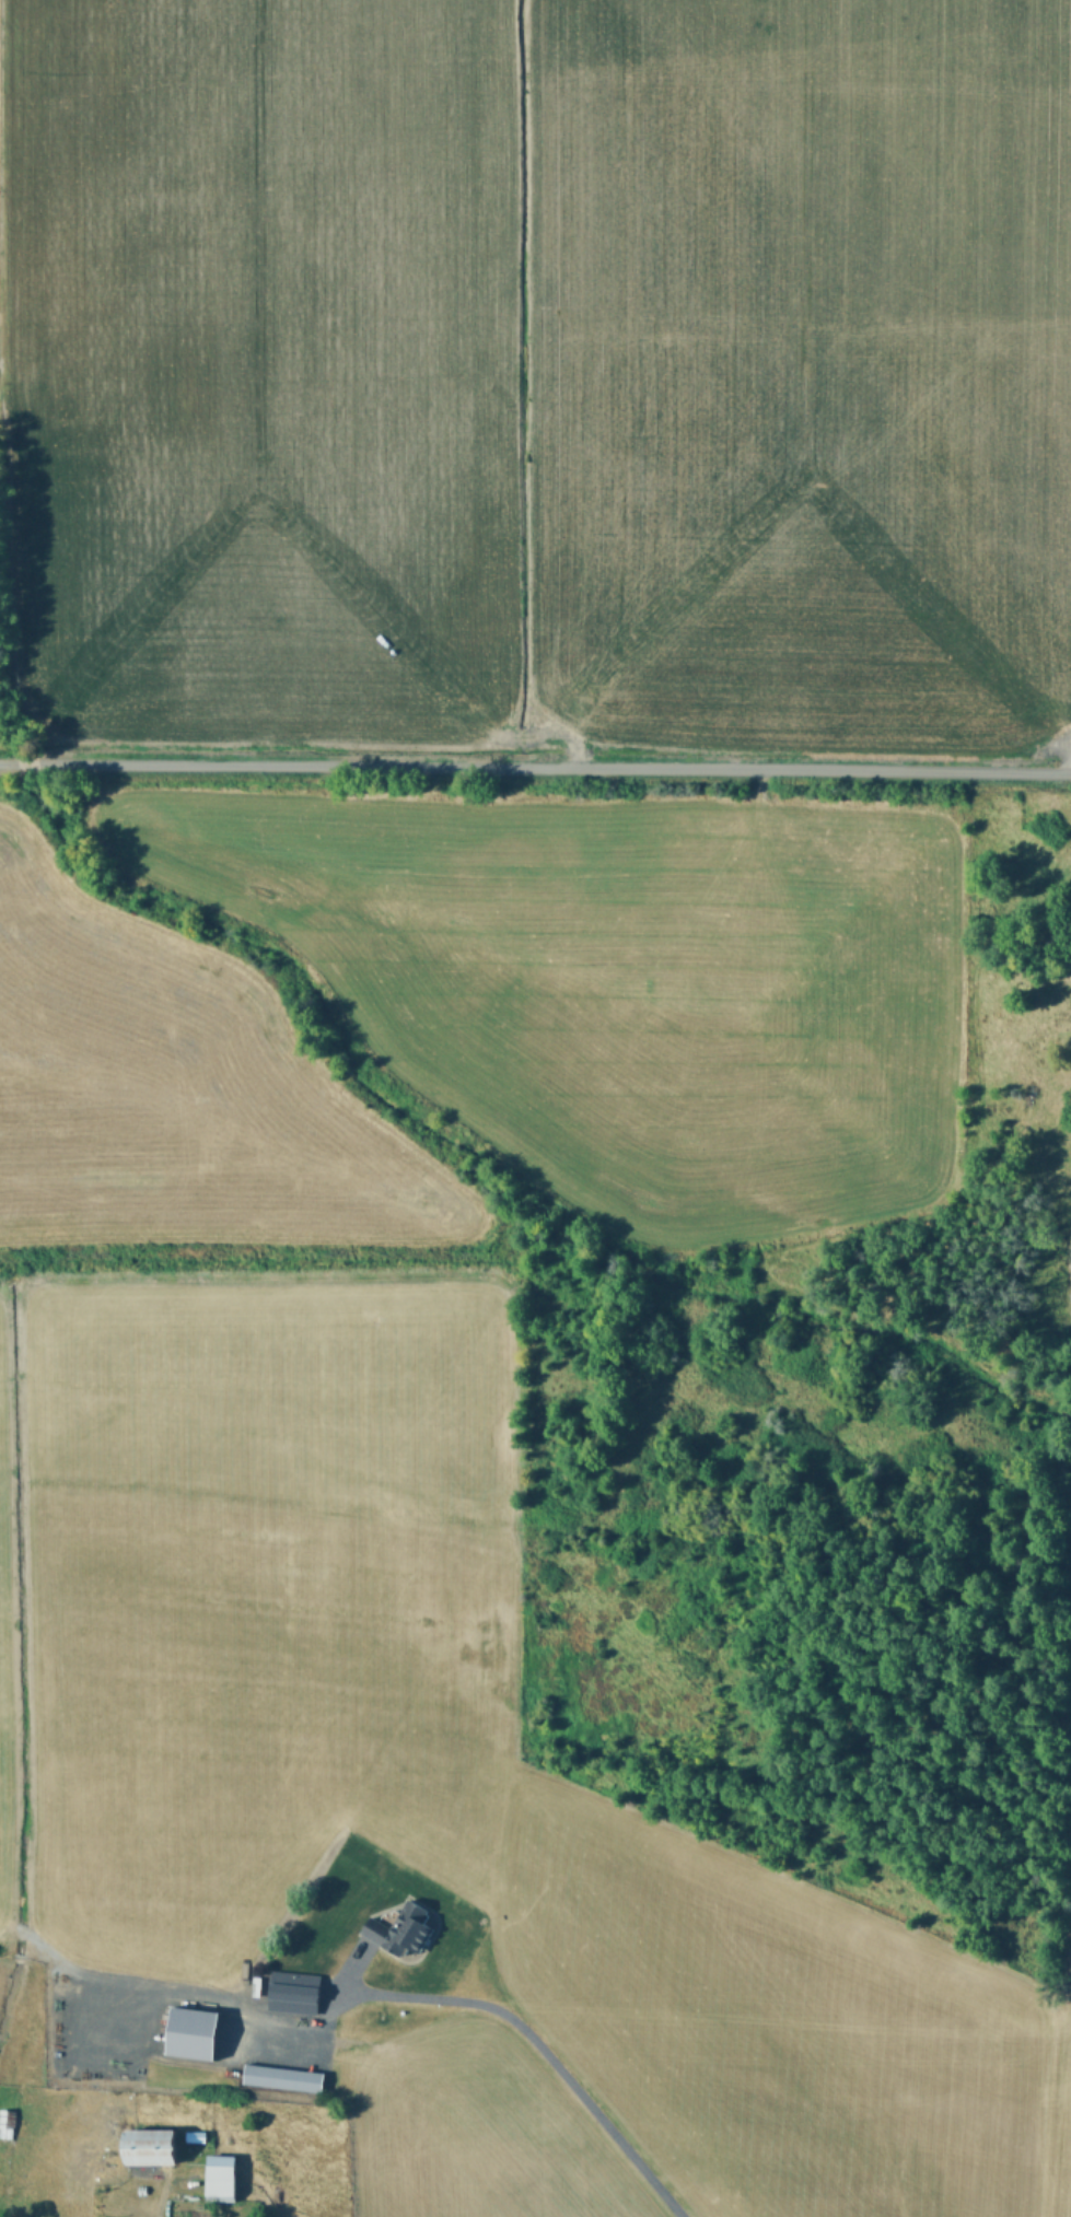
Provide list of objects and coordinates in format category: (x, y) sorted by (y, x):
road: (535, 766)
crop: (535, 1108)
building: (405, 1928)
building: (299, 1991)
building: (199, 2031)
road: (537, 2053)
building: (286, 2077)
building: (159, 2144)
building: (224, 2177)
building: (117, 2216)

